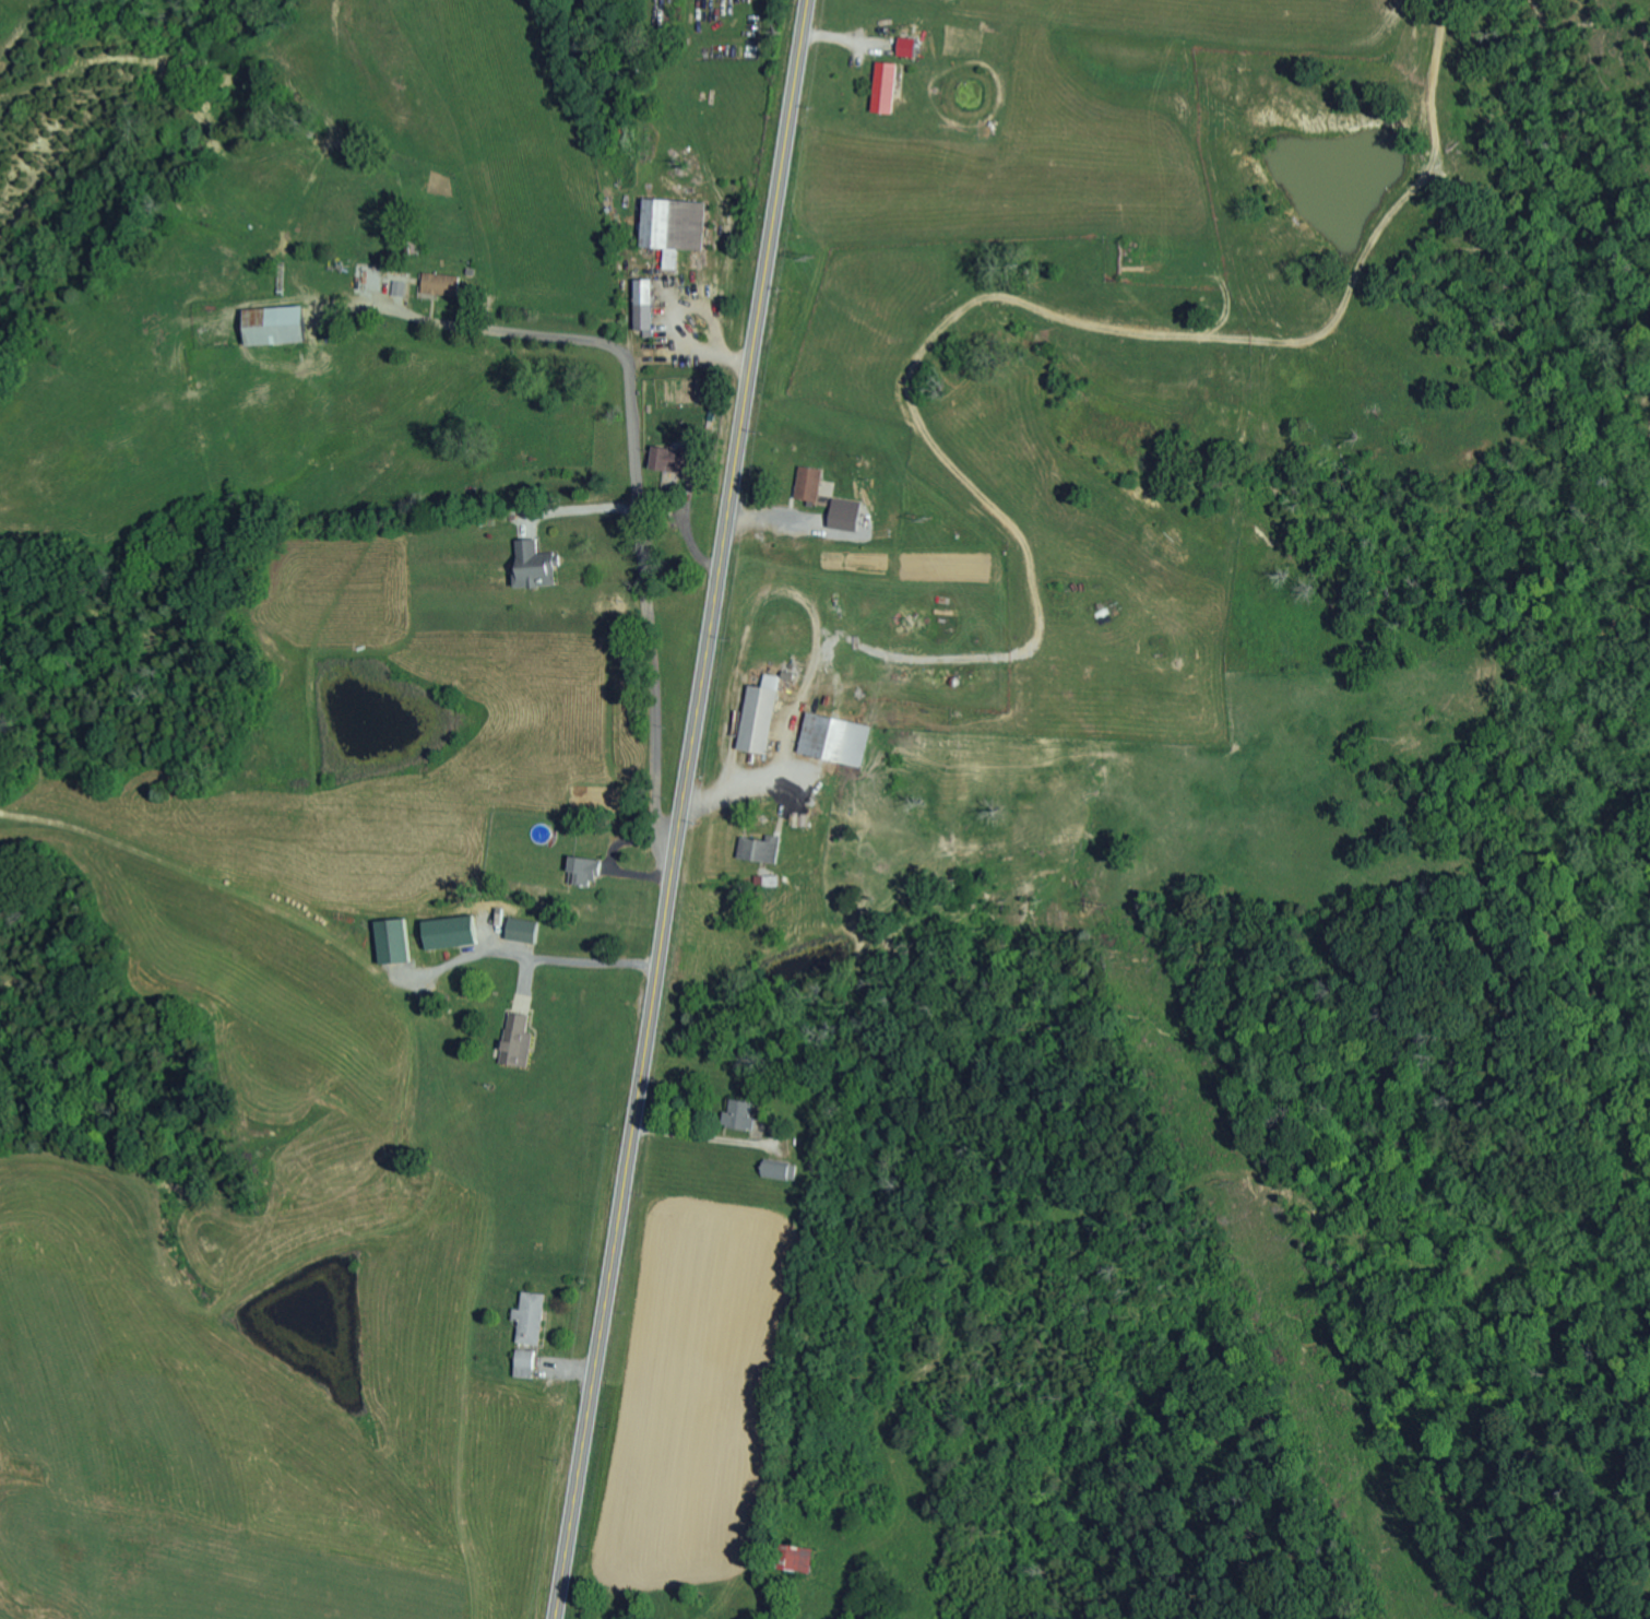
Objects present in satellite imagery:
building: (905, 47)
building: (882, 87)
building: (672, 228)
building: (440, 285)
building: (400, 288)
building: (642, 307)
building: (273, 327)
building: (662, 458)
road: (641, 477)
building: (807, 483)
building: (843, 515)
building: (534, 564)
building: (756, 714)
building: (832, 738)
road: (684, 809)
building: (759, 849)
building: (582, 870)
building: (521, 930)
building: (448, 932)
building: (391, 941)
building: (514, 1041)
building: (737, 1114)
building: (773, 1169)
building: (527, 1317)
building: (522, 1363)
building: (796, 1559)

